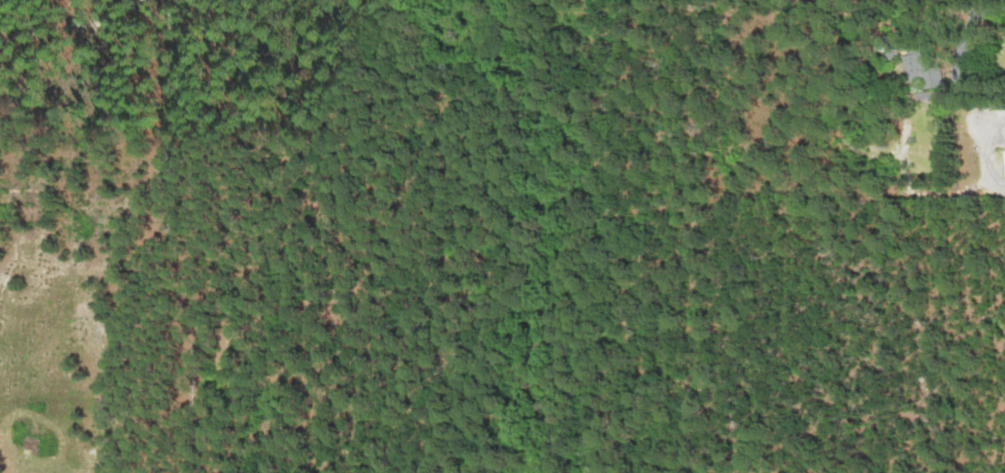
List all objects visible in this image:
building: (925, 71)

